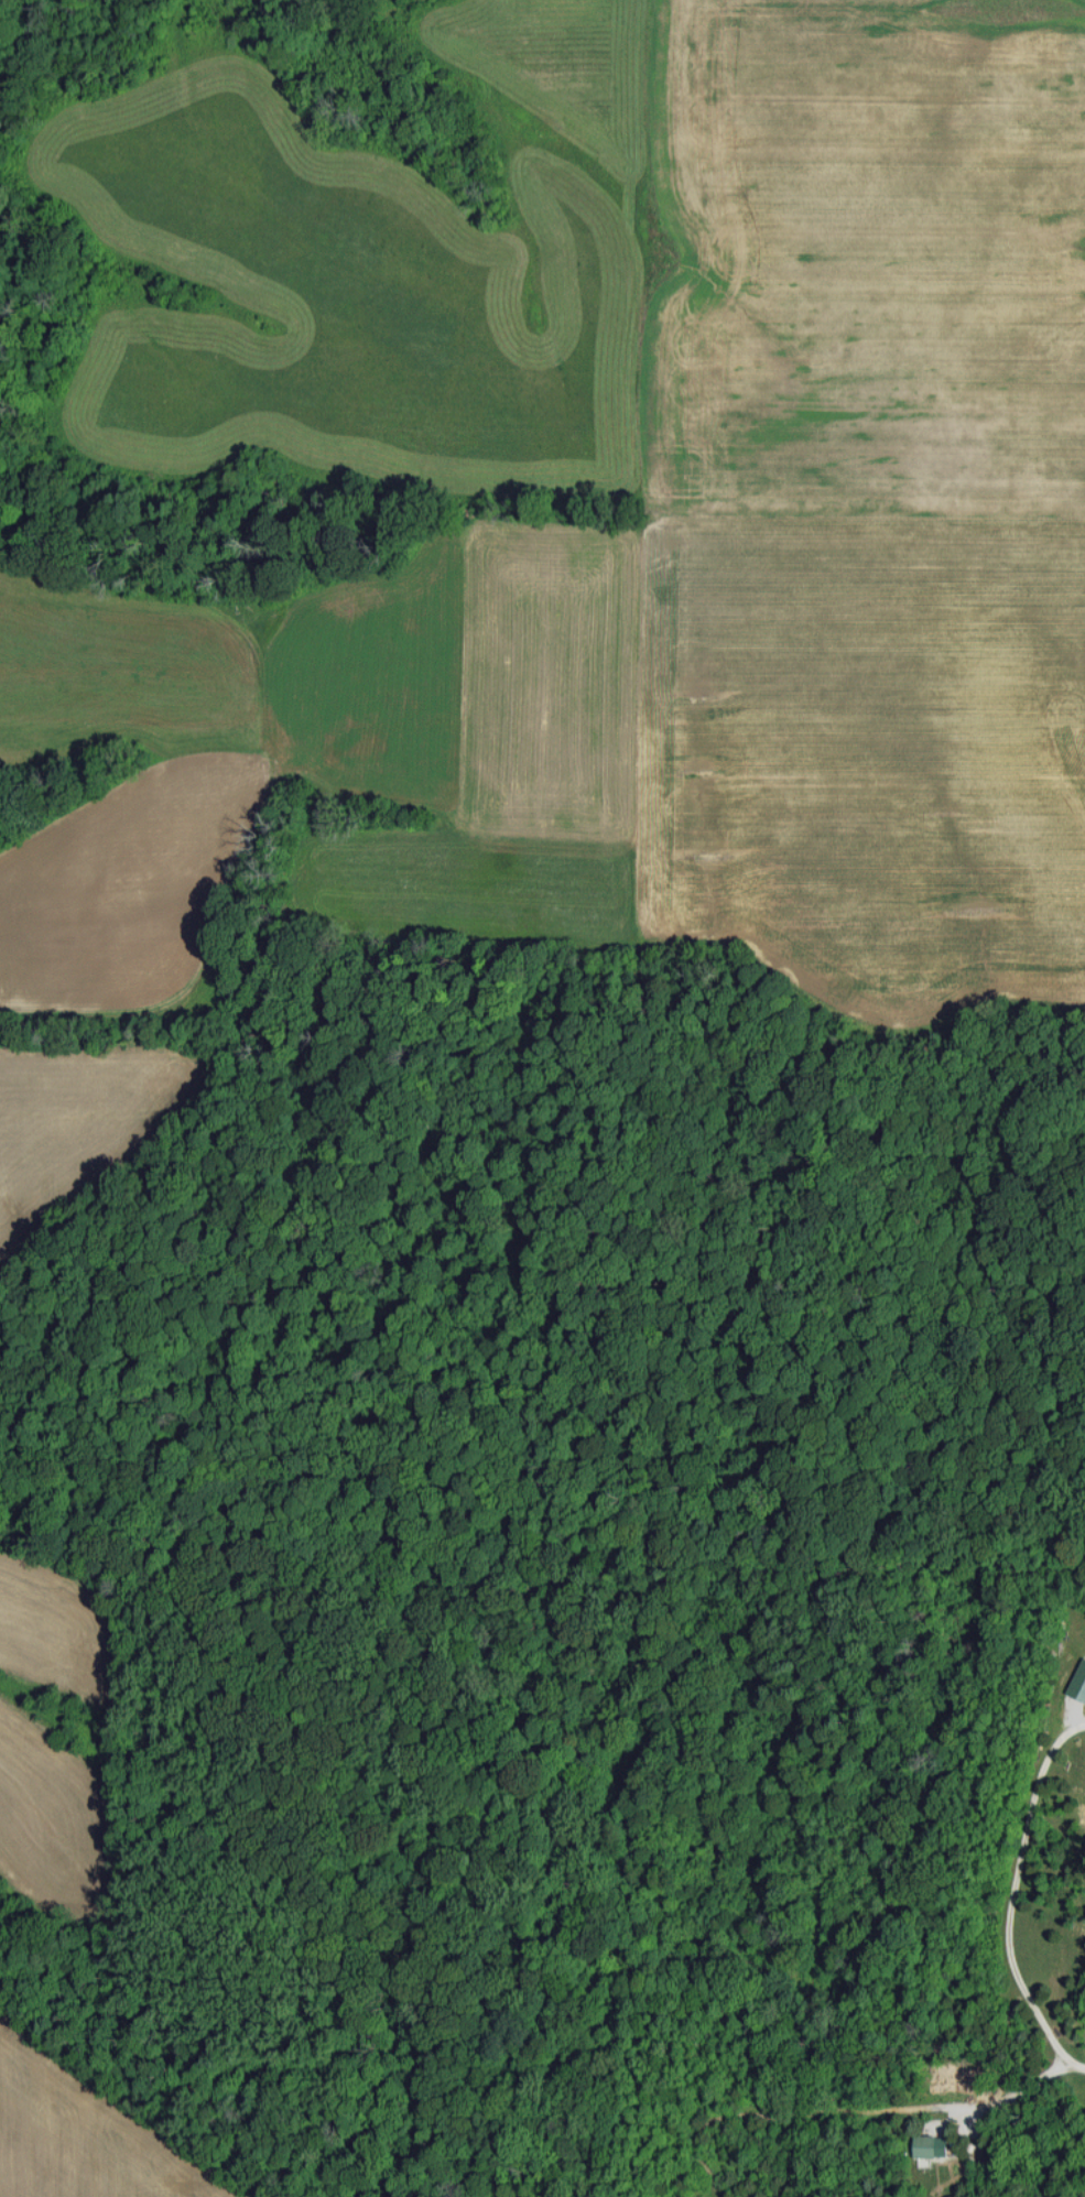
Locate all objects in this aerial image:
road: (1012, 1897)

